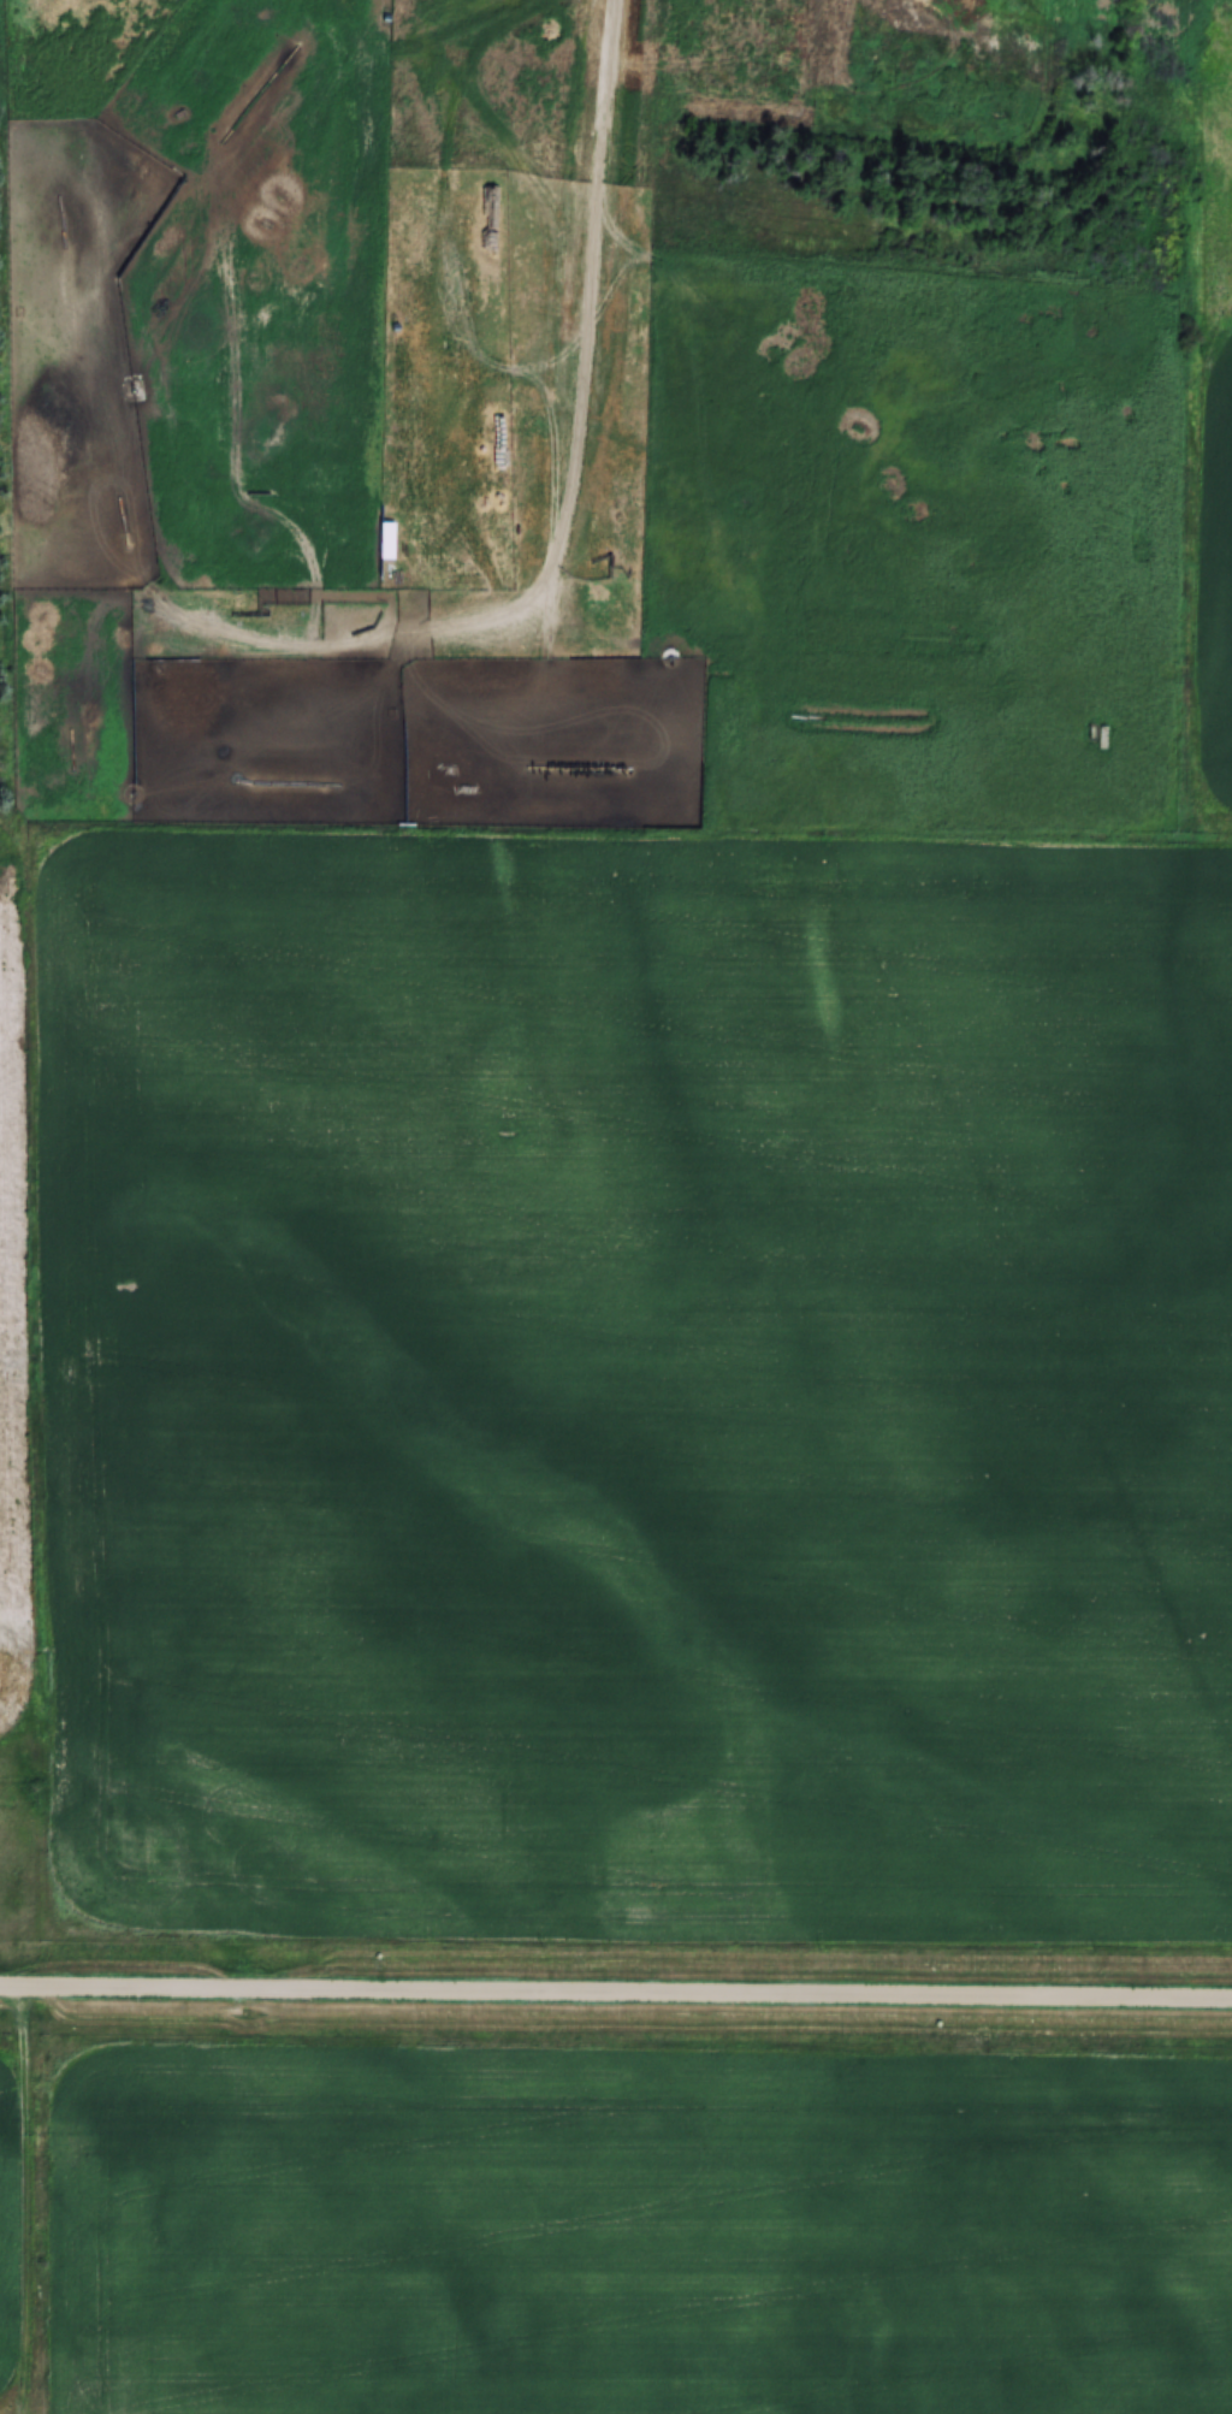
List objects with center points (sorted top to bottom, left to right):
road: (579, 302)
building: (493, 320)
building: (385, 540)
crop: (10, 1351)
road: (616, 1990)

